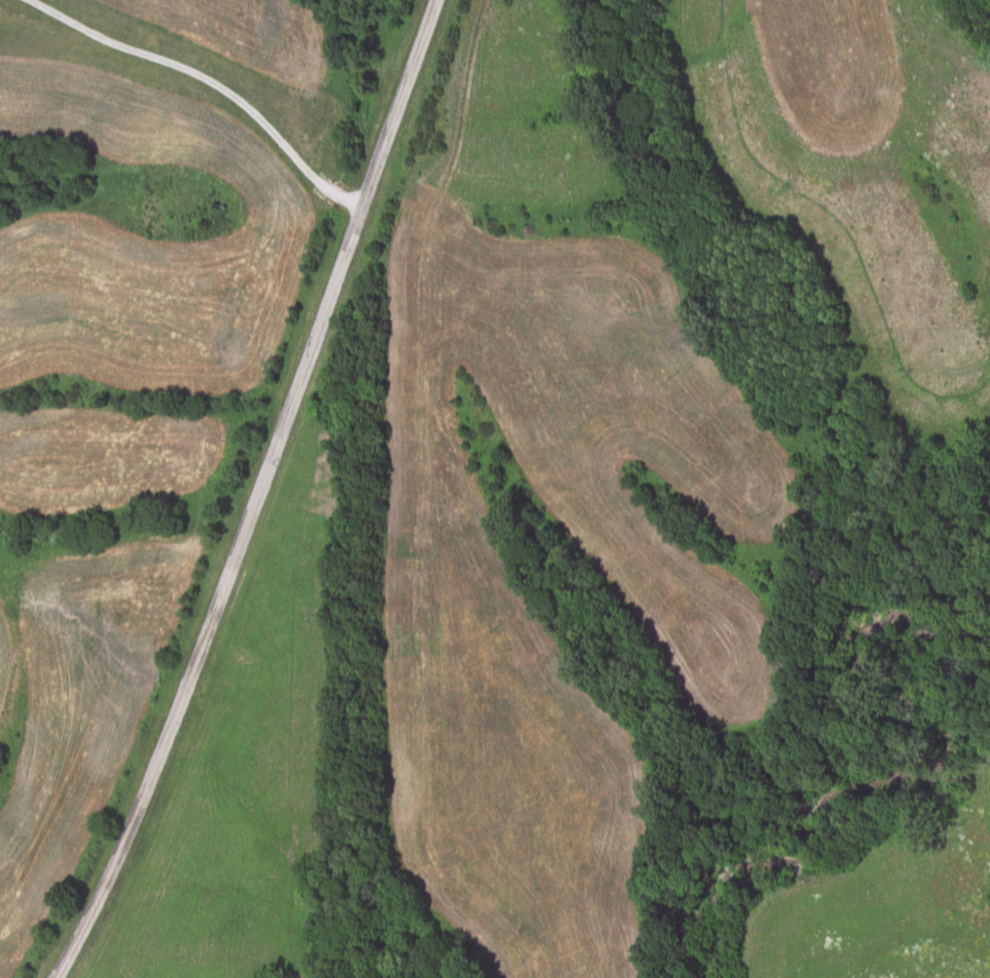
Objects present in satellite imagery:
road: (256, 493)

